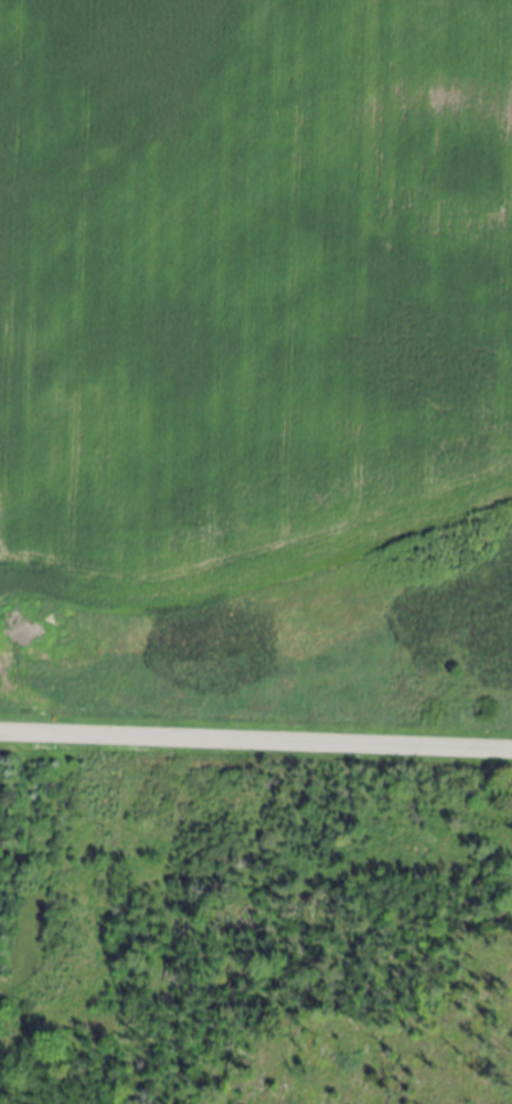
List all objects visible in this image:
road: (256, 739)

